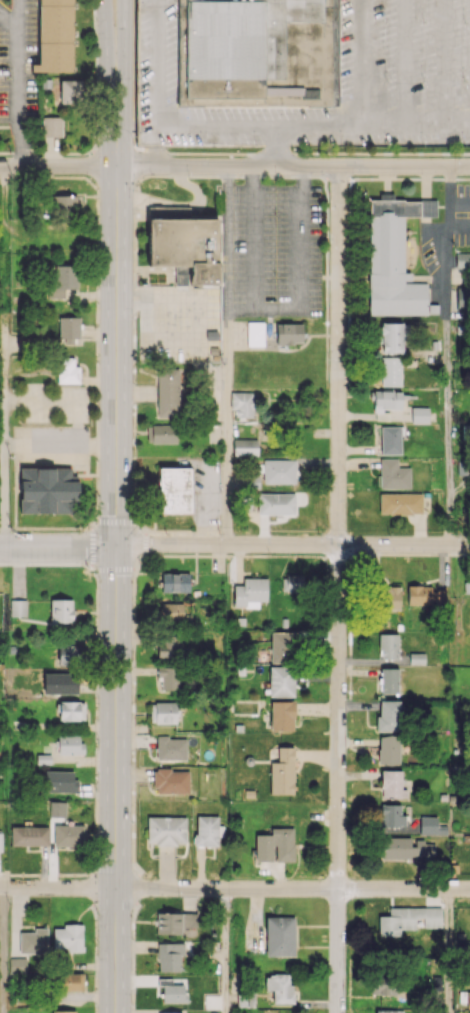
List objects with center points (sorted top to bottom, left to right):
road: (10, 19)
road: (106, 33)
road: (122, 33)
building: (55, 36)
road: (361, 62)
road: (404, 62)
road: (443, 62)
building: (304, 71)
parking lot: (304, 71)
road: (18, 83)
building: (70, 91)
road: (252, 125)
building: (51, 126)
road: (279, 145)
road: (57, 166)
road: (292, 166)
building: (64, 205)
building: (185, 246)
road: (250, 248)
building: (394, 256)
building: (462, 260)
road: (300, 261)
building: (182, 275)
building: (60, 280)
building: (68, 328)
building: (255, 333)
building: (288, 333)
building: (391, 337)
road: (227, 354)
road: (448, 355)
road: (3, 356)
building: (66, 370)
building: (390, 371)
building: (168, 393)
building: (387, 400)
building: (242, 403)
building: (419, 414)
building: (161, 433)
building: (391, 440)
building: (245, 446)
building: (279, 471)
building: (393, 474)
building: (47, 490)
building: (174, 490)
building: (275, 503)
building: (400, 503)
road: (115, 539)
road: (292, 544)
traffic signals: (116, 546)
road: (58, 547)
building: (175, 582)
building: (291, 582)
road: (338, 590)
building: (250, 592)
building: (425, 595)
building: (391, 597)
building: (18, 601)
building: (61, 610)
building: (172, 612)
building: (169, 646)
building: (283, 646)
building: (388, 646)
building: (67, 655)
building: (417, 658)
building: (168, 678)
building: (388, 680)
building: (281, 681)
building: (60, 682)
building: (70, 710)
building: (162, 712)
building: (282, 715)
building: (388, 715)
building: (69, 744)
building: (171, 748)
building: (388, 749)
building: (43, 758)
building: (282, 772)
building: (60, 781)
building: (171, 781)
building: (391, 784)
building: (391, 815)
building: (429, 825)
building: (166, 830)
building: (206, 830)
building: (29, 835)
building: (68, 835)
building: (0, 841)
building: (275, 845)
building: (404, 847)
road: (235, 888)
building: (407, 919)
building: (175, 922)
building: (279, 936)
building: (68, 937)
building: (33, 941)
road: (2, 950)
road: (226, 950)
road: (448, 951)
building: (169, 956)
building: (70, 981)
building: (383, 985)
building: (280, 987)
building: (173, 993)
building: (468, 999)
building: (63, 1011)
building: (388, 1011)
building: (171, 1012)

